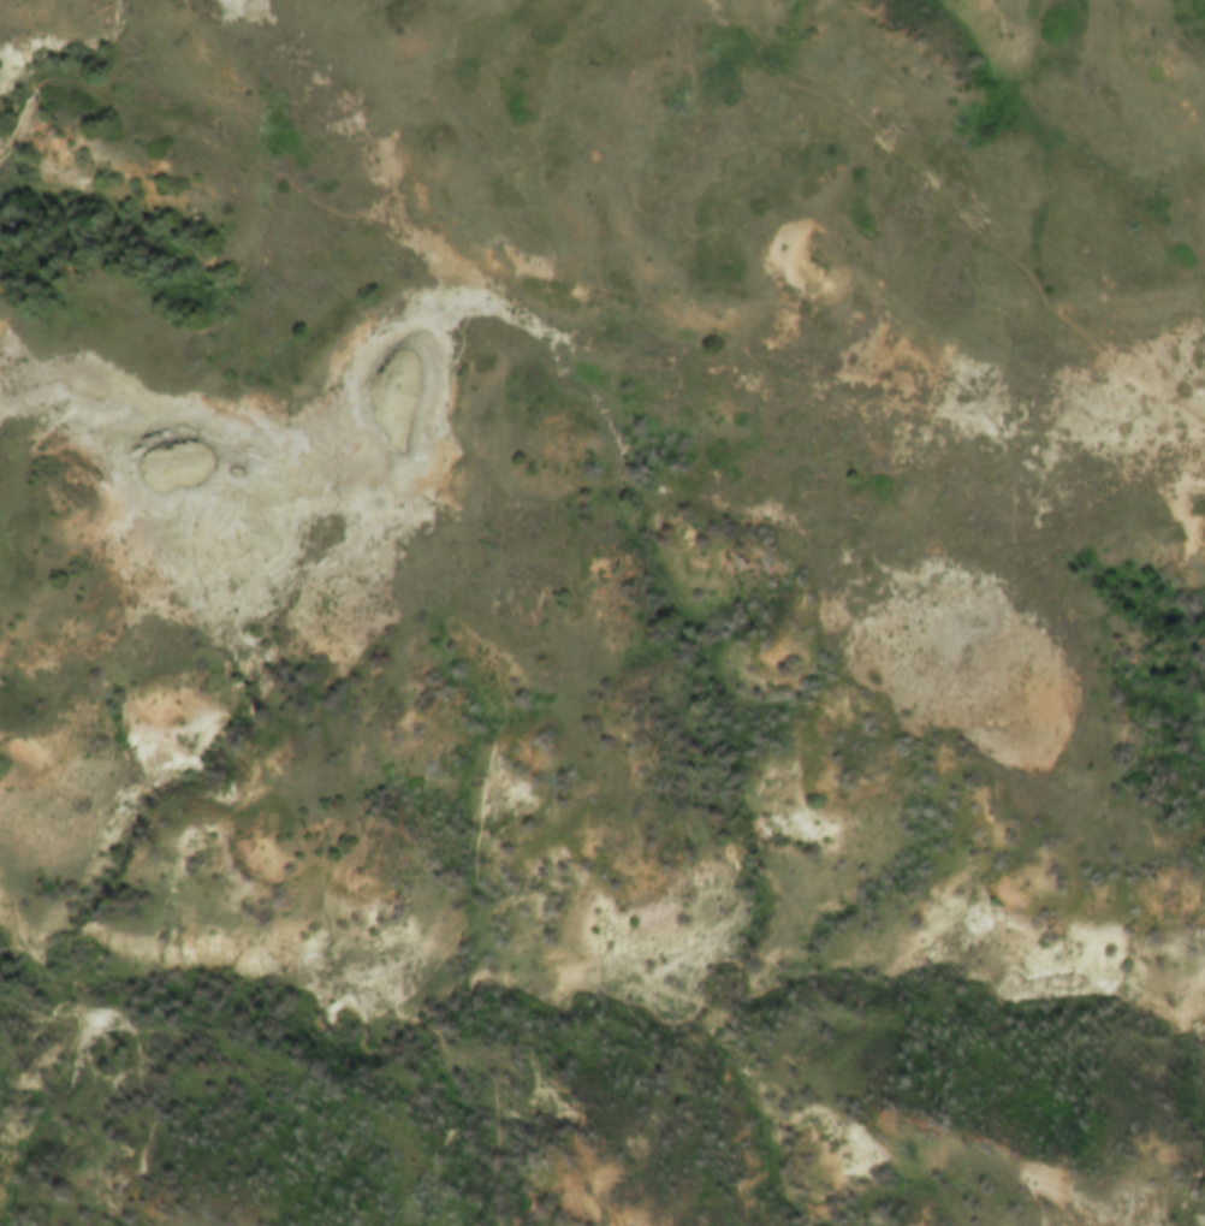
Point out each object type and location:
road: (963, 191)

